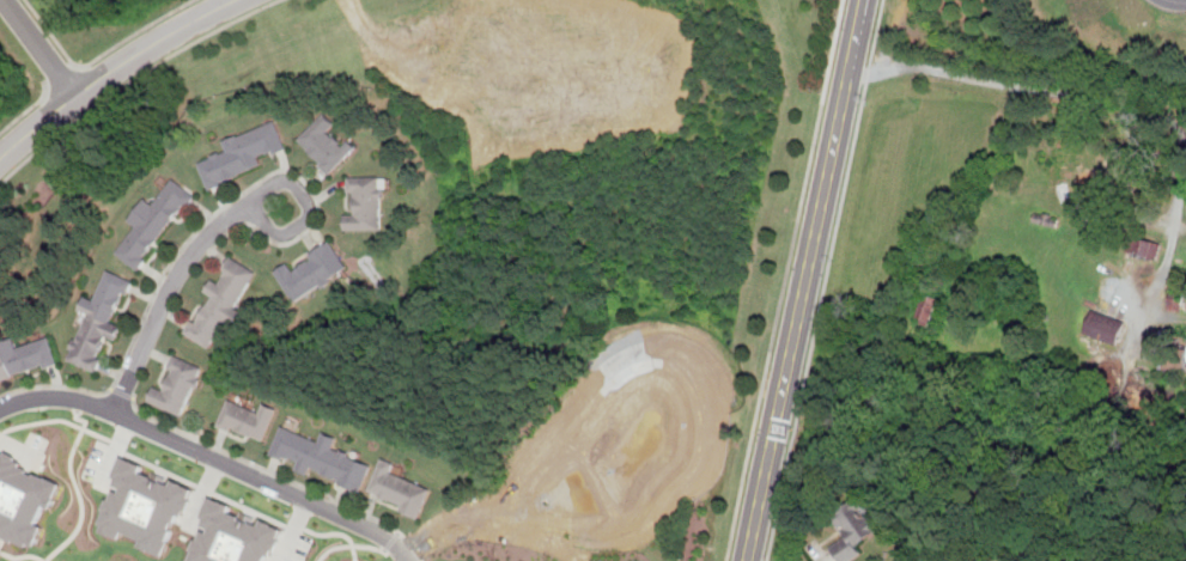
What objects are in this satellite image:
road: (1181, 0)
road: (41, 47)
road: (98, 55)
road: (78, 65)
road: (111, 71)
road: (62, 78)
road: (133, 79)
road: (1109, 102)
road: (56, 108)
road: (25, 109)
building: (326, 144)
building: (244, 153)
road: (251, 203)
building: (366, 205)
building: (154, 221)
building: (1145, 246)
building: (314, 272)
road: (785, 280)
road: (803, 280)
road: (823, 280)
road: (166, 294)
building: (223, 304)
building: (927, 307)
building: (99, 321)
building: (1105, 325)
building: (25, 356)
building: (178, 385)
building: (249, 420)
road: (116, 452)
road: (211, 456)
building: (321, 457)
road: (281, 476)
building: (401, 489)
building: (23, 499)
building: (145, 506)
building: (854, 526)
road: (294, 530)
building: (235, 536)
building: (904, 560)

